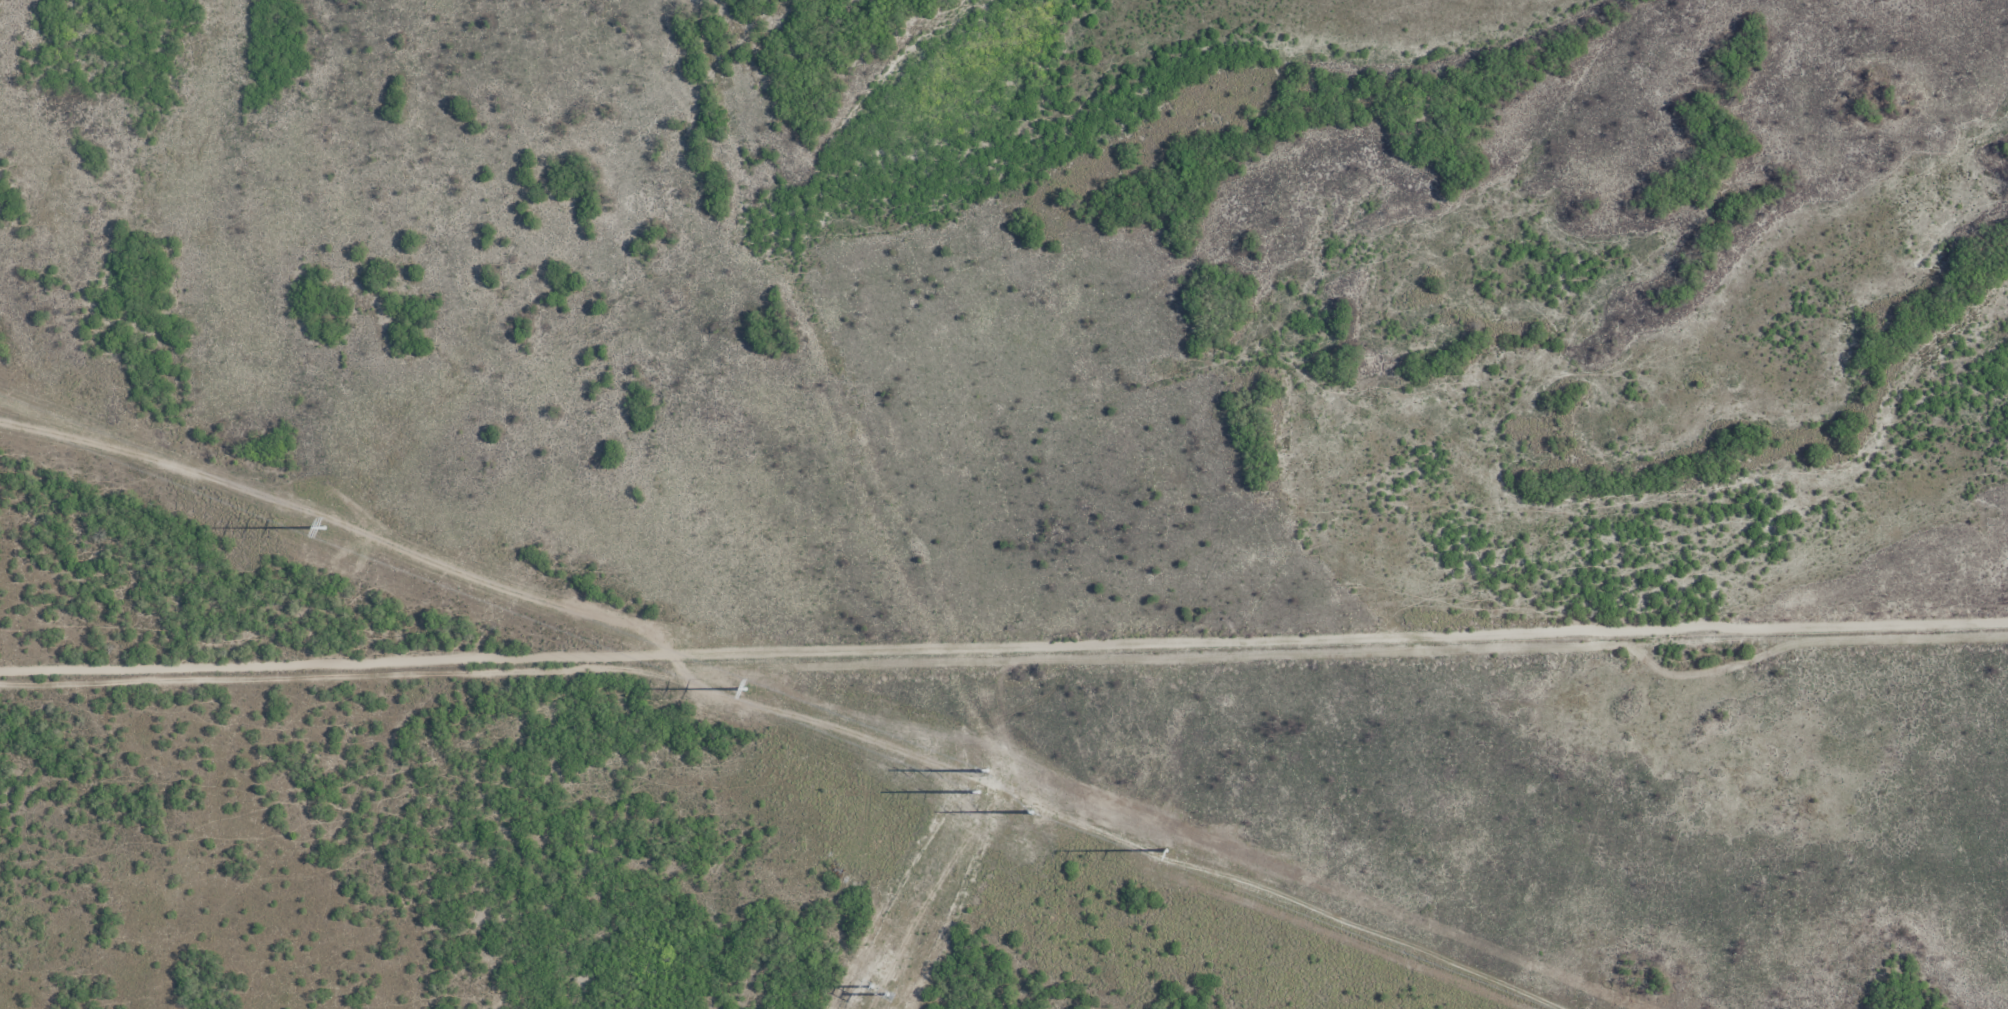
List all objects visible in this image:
power tower: (330, 526)
power tower: (754, 694)
power tower: (1172, 856)

